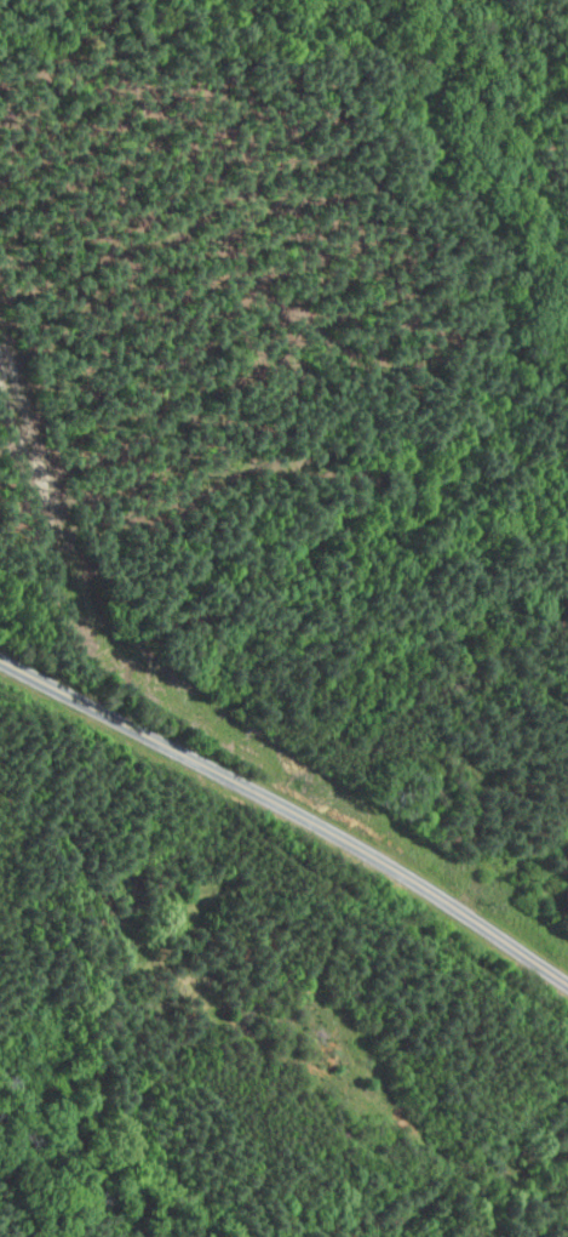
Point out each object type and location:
road: (289, 813)

